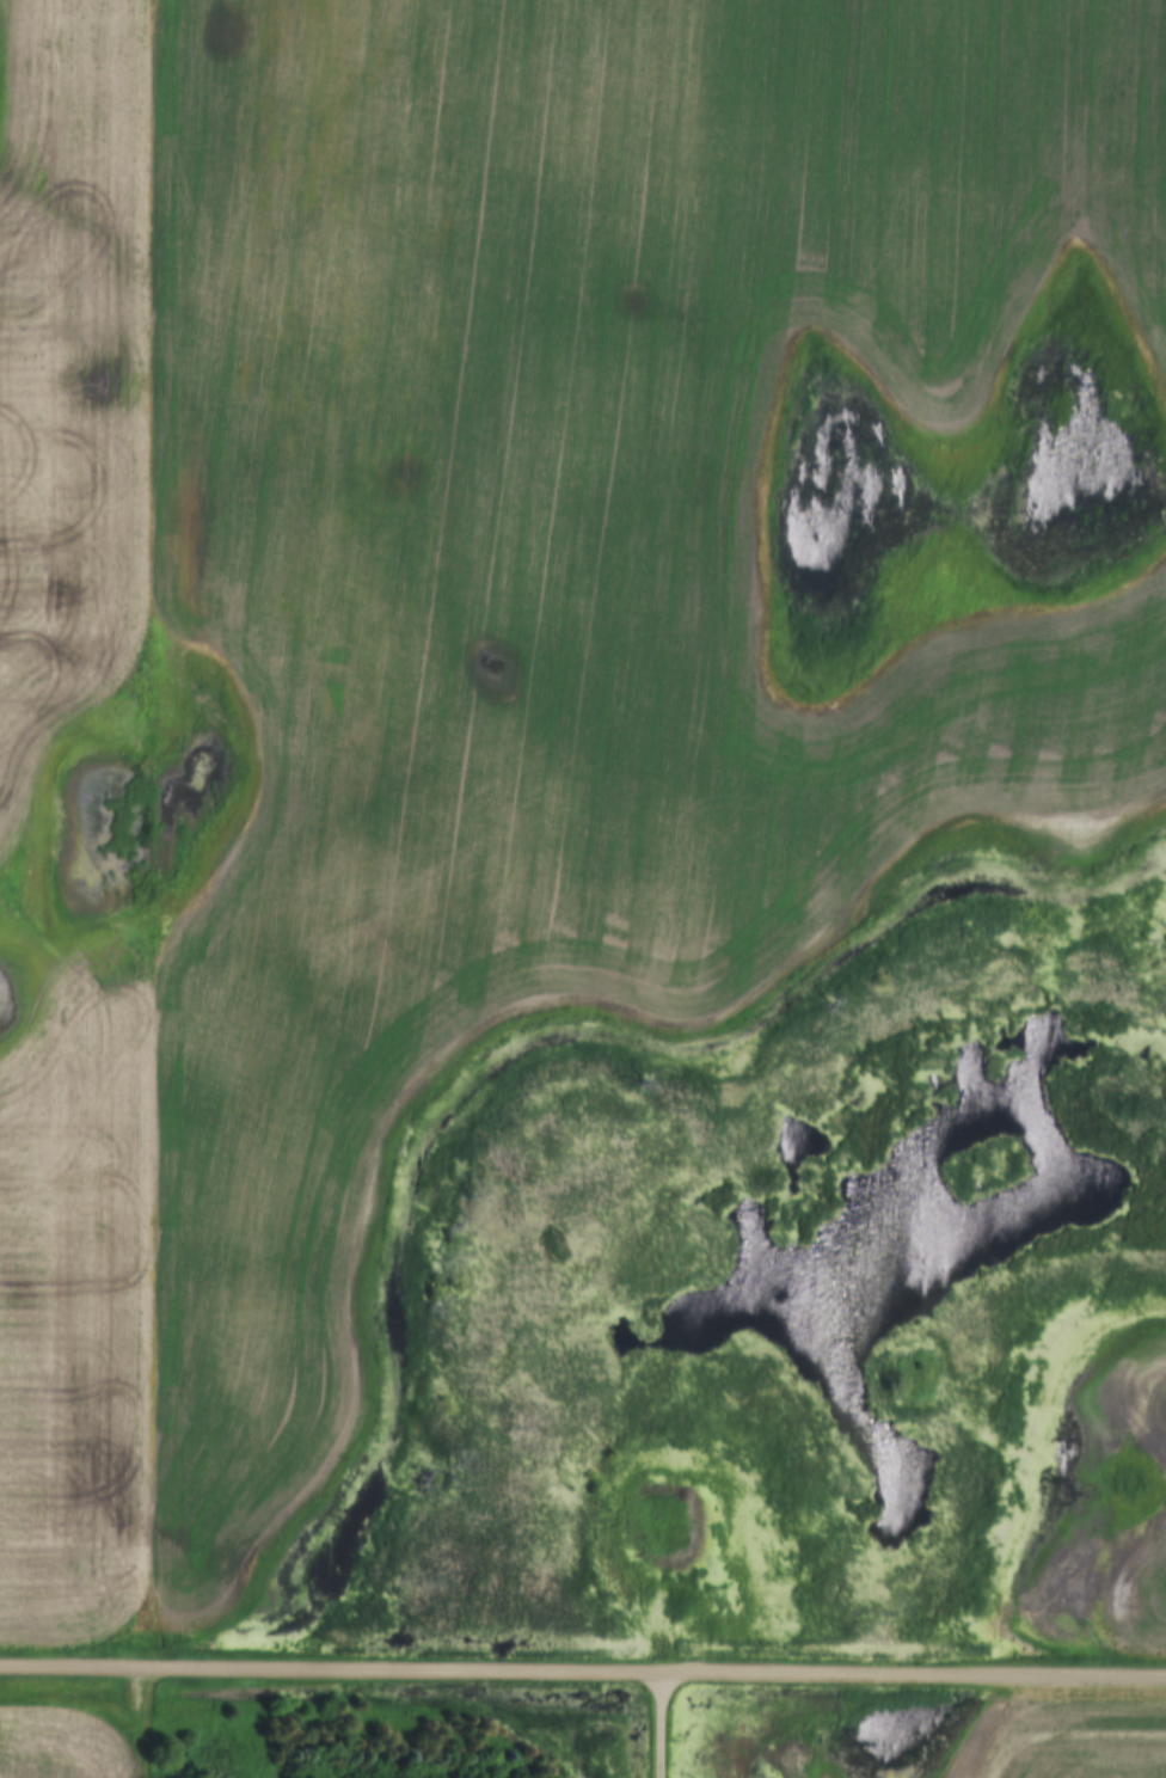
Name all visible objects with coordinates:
road: (582, 1678)
road: (147, 1727)
road: (664, 1728)

